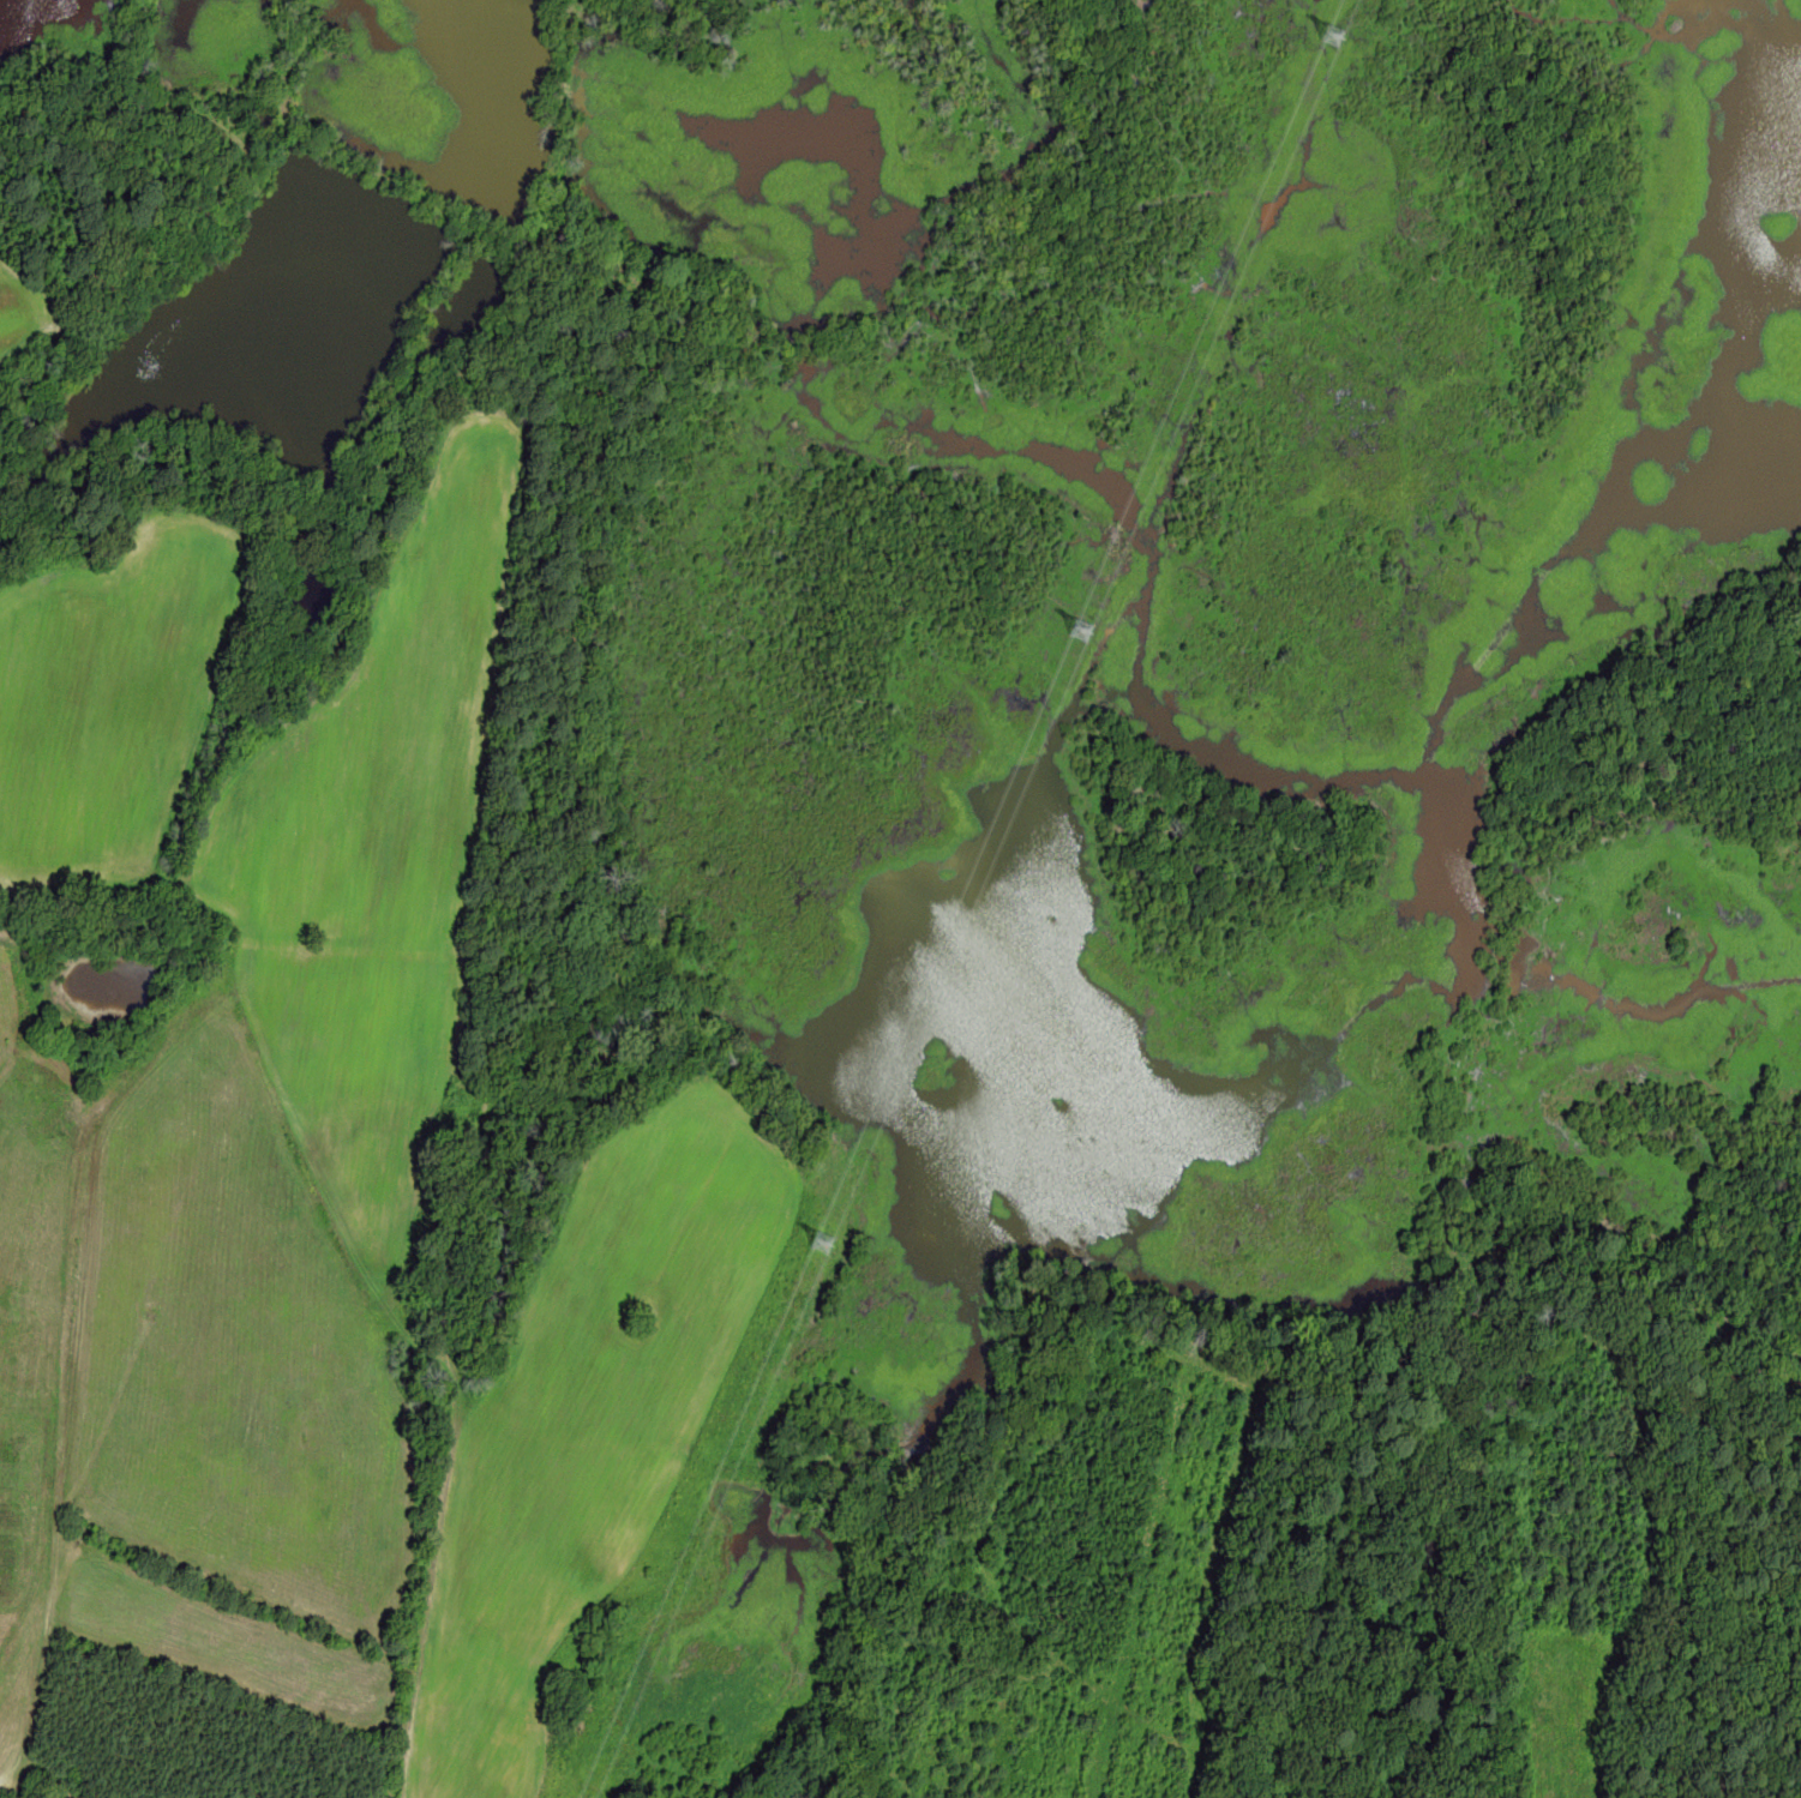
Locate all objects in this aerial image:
power tower: (1338, 35)
power tower: (1088, 632)
road: (522, 792)
power tower: (830, 1243)
road: (1124, 1319)
crop: (182, 1738)

